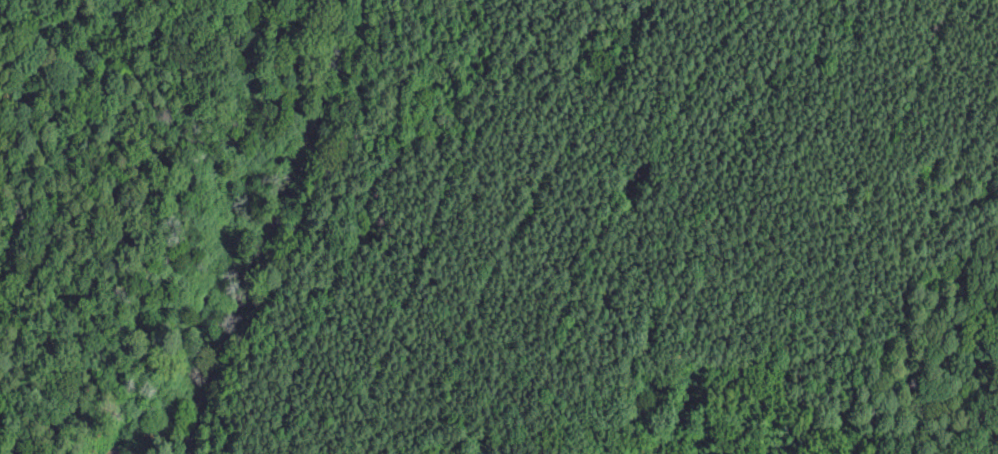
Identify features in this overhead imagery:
road: (428, 216)
road: (277, 225)
road: (106, 231)
road: (820, 259)
road: (902, 301)
road: (520, 385)
road: (943, 405)
road: (823, 435)

